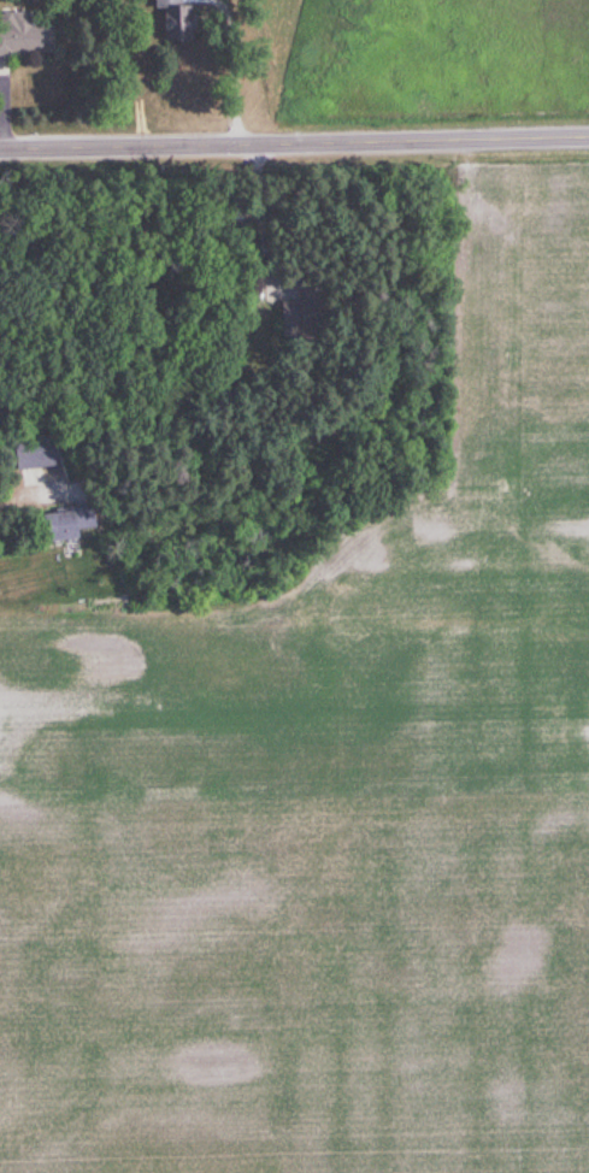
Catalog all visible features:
building: (172, 20)
building: (25, 36)
road: (294, 145)
building: (31, 453)
building: (55, 527)

